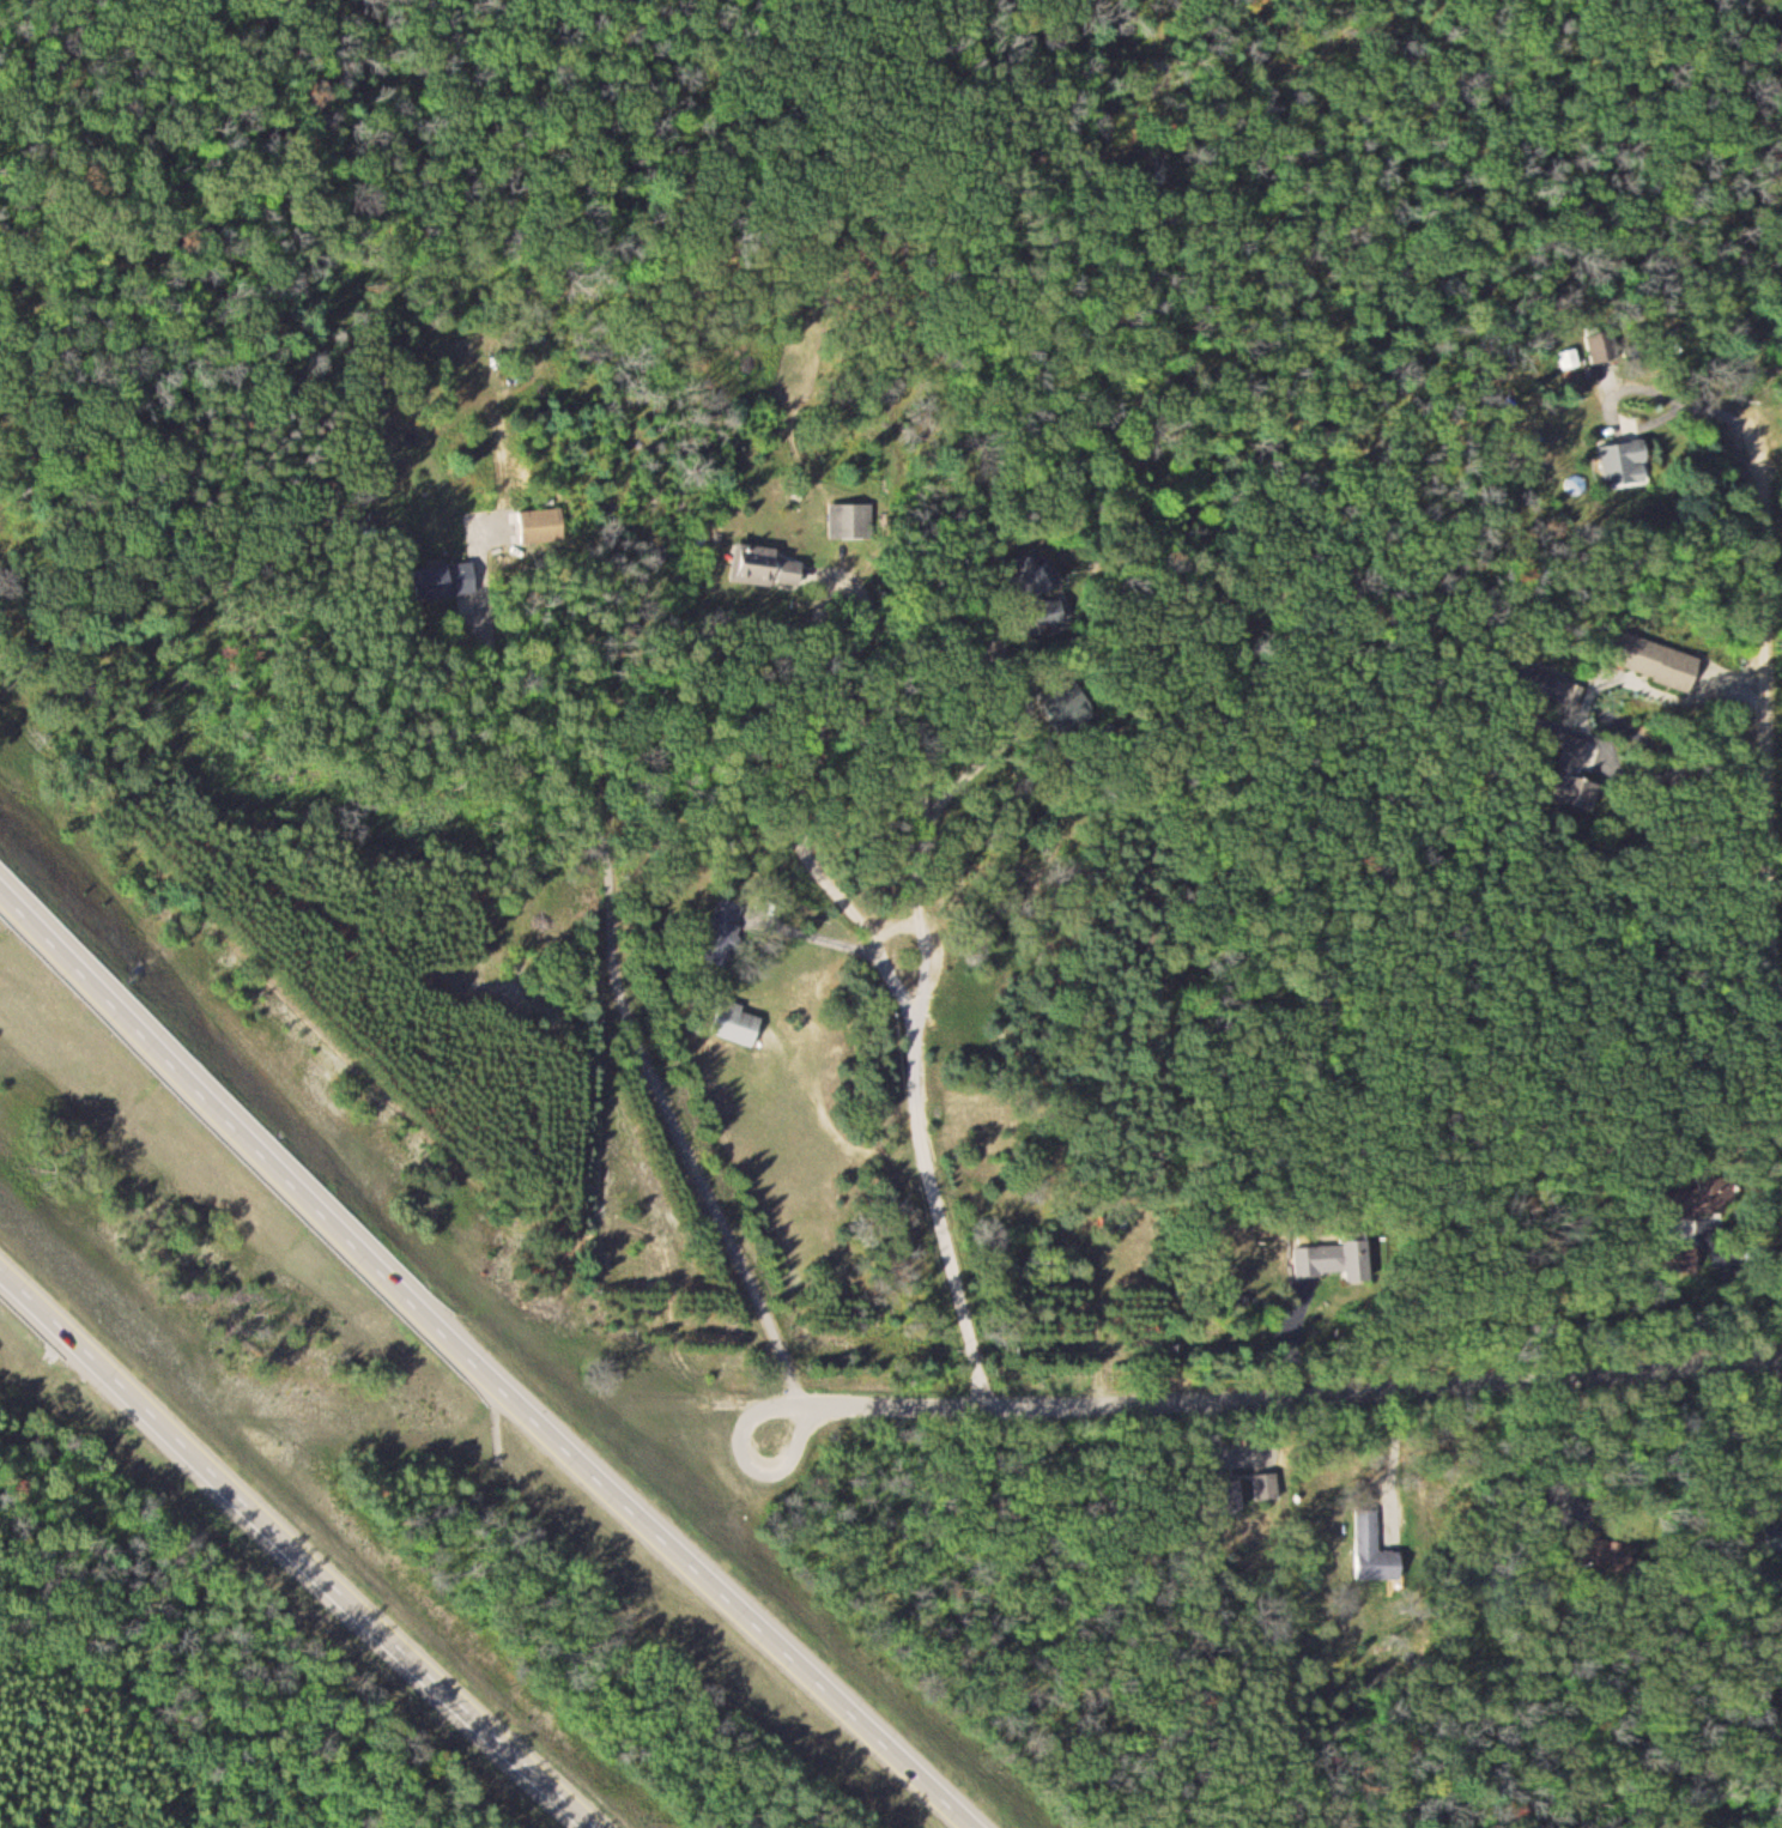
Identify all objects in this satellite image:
building: (1628, 462)
building: (849, 520)
building: (544, 526)
building: (768, 567)
building: (1043, 577)
building: (429, 582)
building: (1660, 661)
building: (1572, 767)
road: (604, 858)
building: (727, 926)
building: (740, 1024)
road: (935, 1071)
building: (1719, 1188)
building: (1332, 1257)
road: (480, 1360)
road: (1321, 1385)
road: (828, 1404)
road: (782, 1418)
building: (1268, 1485)
building: (1236, 1491)
road: (299, 1549)
building: (1375, 1550)

